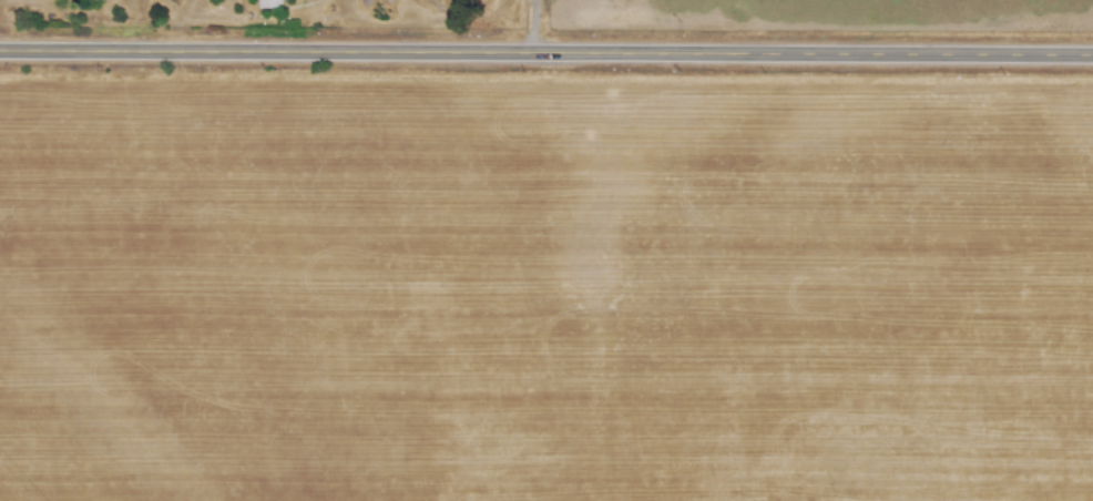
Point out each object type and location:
road: (531, 1)
building: (267, 3)
road: (533, 27)
road: (545, 54)

